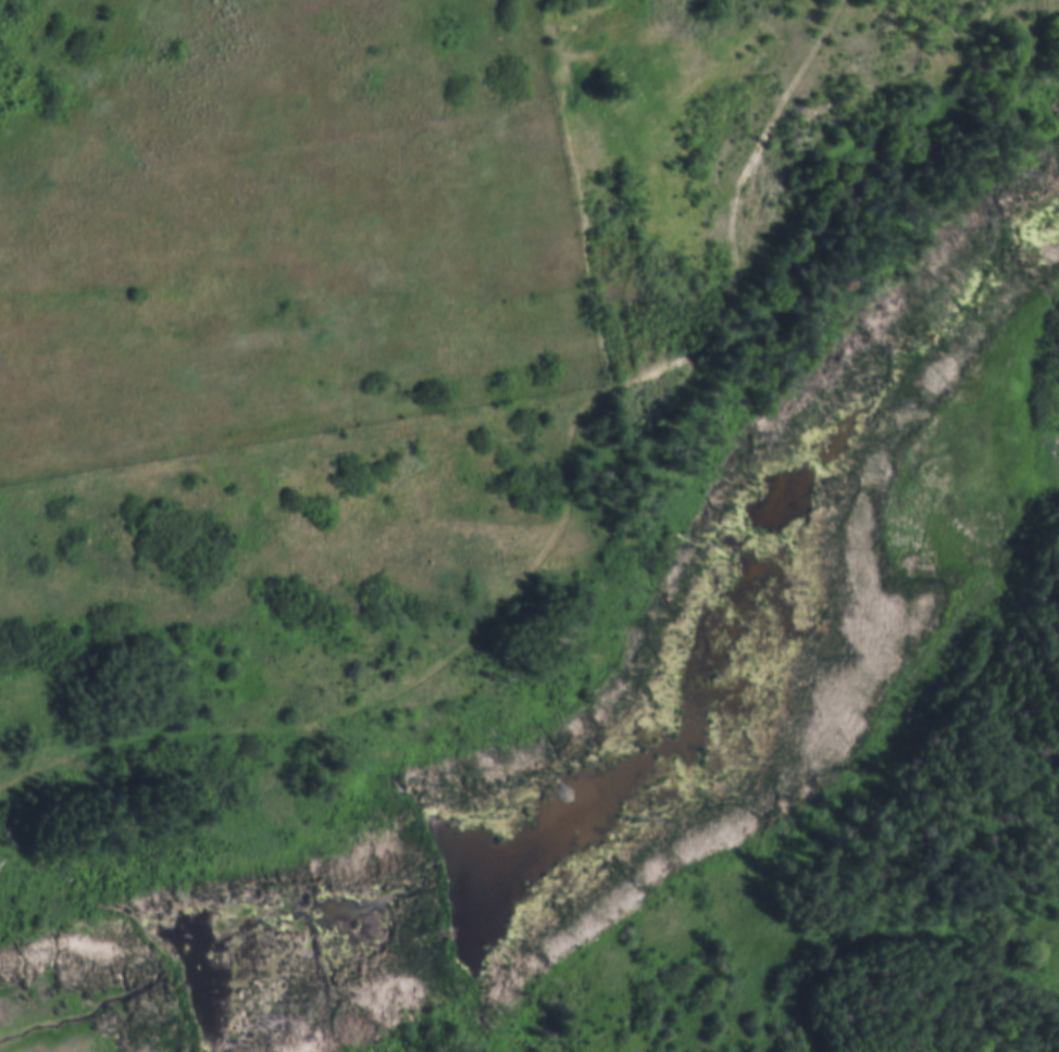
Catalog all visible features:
road: (755, 211)

